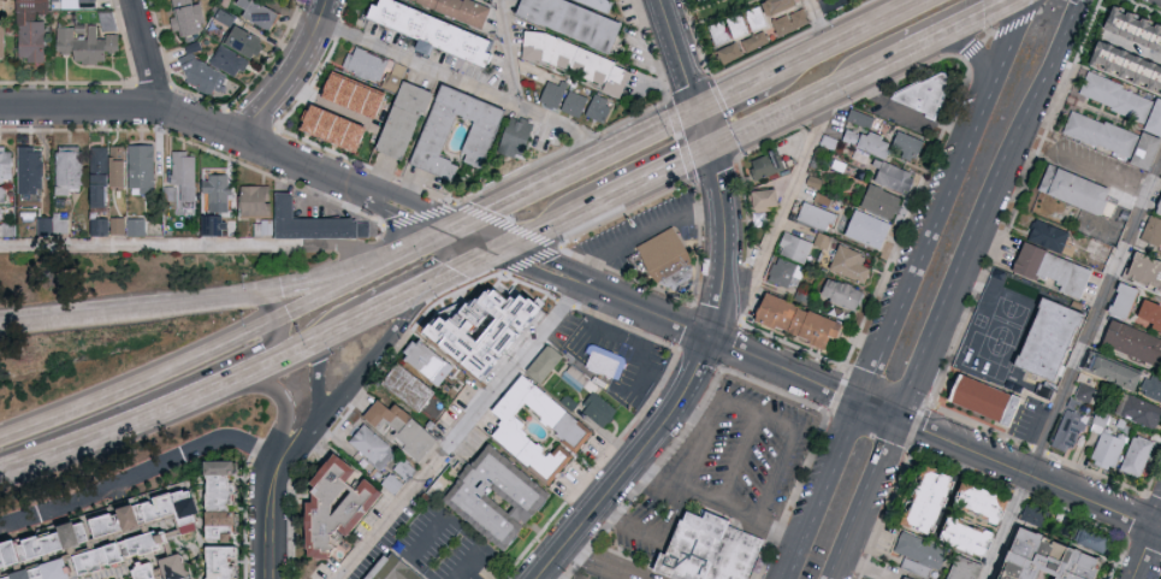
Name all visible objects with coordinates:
building: (93, 0)
building: (699, 0)
road: (822, 2)
building: (599, 4)
building: (460, 10)
building: (257, 13)
building: (787, 14)
building: (189, 18)
building: (571, 20)
road: (825, 23)
road: (956, 25)
building: (38, 29)
building: (434, 31)
building: (740, 35)
building: (5, 41)
road: (847, 41)
building: (88, 42)
building: (245, 42)
building: (1132, 45)
road: (971, 53)
road: (148, 55)
road: (514, 55)
road: (681, 55)
building: (229, 61)
building: (576, 61)
building: (366, 64)
road: (292, 73)
building: (397, 77)
road: (464, 87)
building: (930, 93)
building: (553, 94)
building: (354, 95)
road: (734, 96)
road: (808, 99)
building: (1118, 99)
building: (574, 105)
building: (599, 108)
road: (124, 112)
traffic signals: (701, 112)
building: (864, 117)
building: (404, 120)
building: (333, 128)
road: (707, 130)
building: (1095, 131)
building: (515, 138)
building: (434, 140)
building: (887, 142)
traffic signals: (713, 149)
building: (1138, 149)
building: (10, 164)
building: (124, 165)
building: (75, 167)
building: (147, 167)
building: (35, 169)
building: (769, 169)
road: (580, 171)
building: (1160, 172)
building: (189, 173)
road: (657, 175)
building: (106, 176)
building: (899, 177)
building: (816, 181)
road: (351, 187)
building: (1067, 188)
building: (221, 191)
building: (5, 193)
building: (772, 199)
building: (259, 201)
building: (884, 201)
building: (1155, 201)
road: (784, 203)
building: (2, 212)
building: (818, 215)
building: (123, 224)
building: (218, 224)
building: (51, 225)
building: (106, 225)
building: (140, 225)
road: (552, 225)
building: (871, 229)
building: (1149, 229)
parking lot: (641, 231)
traffic signals: (460, 232)
road: (641, 234)
building: (1046, 236)
road: (481, 241)
road: (190, 244)
road: (725, 244)
building: (796, 246)
building: (1096, 248)
traffic signals: (504, 250)
road: (414, 252)
building: (663, 261)
building: (853, 262)
road: (535, 264)
road: (466, 267)
building: (1047, 267)
building: (1142, 270)
building: (786, 272)
road: (954, 288)
road: (908, 289)
building: (845, 293)
building: (1021, 293)
traffic signals: (259, 296)
road: (324, 296)
road: (401, 299)
building: (1114, 299)
road: (185, 303)
road: (269, 306)
building: (1145, 314)
traffic signals: (279, 320)
building: (804, 320)
building: (1129, 341)
road: (248, 350)
building: (1052, 350)
building: (433, 360)
building: (608, 361)
building: (550, 364)
road: (184, 365)
building: (1106, 370)
road: (1073, 371)
road: (355, 372)
road: (320, 373)
building: (411, 386)
building: (1150, 386)
building: (1086, 392)
road: (280, 395)
building: (975, 396)
road: (188, 397)
road: (863, 403)
building: (602, 409)
building: (1137, 410)
road: (103, 413)
building: (392, 415)
road: (43, 424)
building: (574, 427)
road: (462, 432)
parking lot: (729, 437)
building: (421, 438)
road: (789, 439)
building: (375, 445)
road: (698, 445)
building: (1103, 448)
building: (1133, 455)
road: (736, 460)
road: (634, 465)
road: (136, 477)
building: (227, 481)
building: (500, 498)
building: (917, 498)
building: (970, 500)
building: (346, 503)
building: (184, 504)
building: (143, 513)
road: (273, 515)
road: (670, 519)
road: (744, 520)
building: (227, 522)
building: (88, 530)
building: (954, 534)
building: (1085, 538)
building: (25, 548)
building: (128, 549)
building: (911, 550)
road: (1149, 551)
building: (712, 553)
building: (5, 557)
building: (1030, 557)
road: (610, 560)
building: (227, 561)
building: (185, 566)
building: (66, 567)
building: (398, 568)
building: (967, 568)
building: (41, 572)
building: (14, 577)
building: (899, 577)
building: (150, 578)
building: (953, 578)

